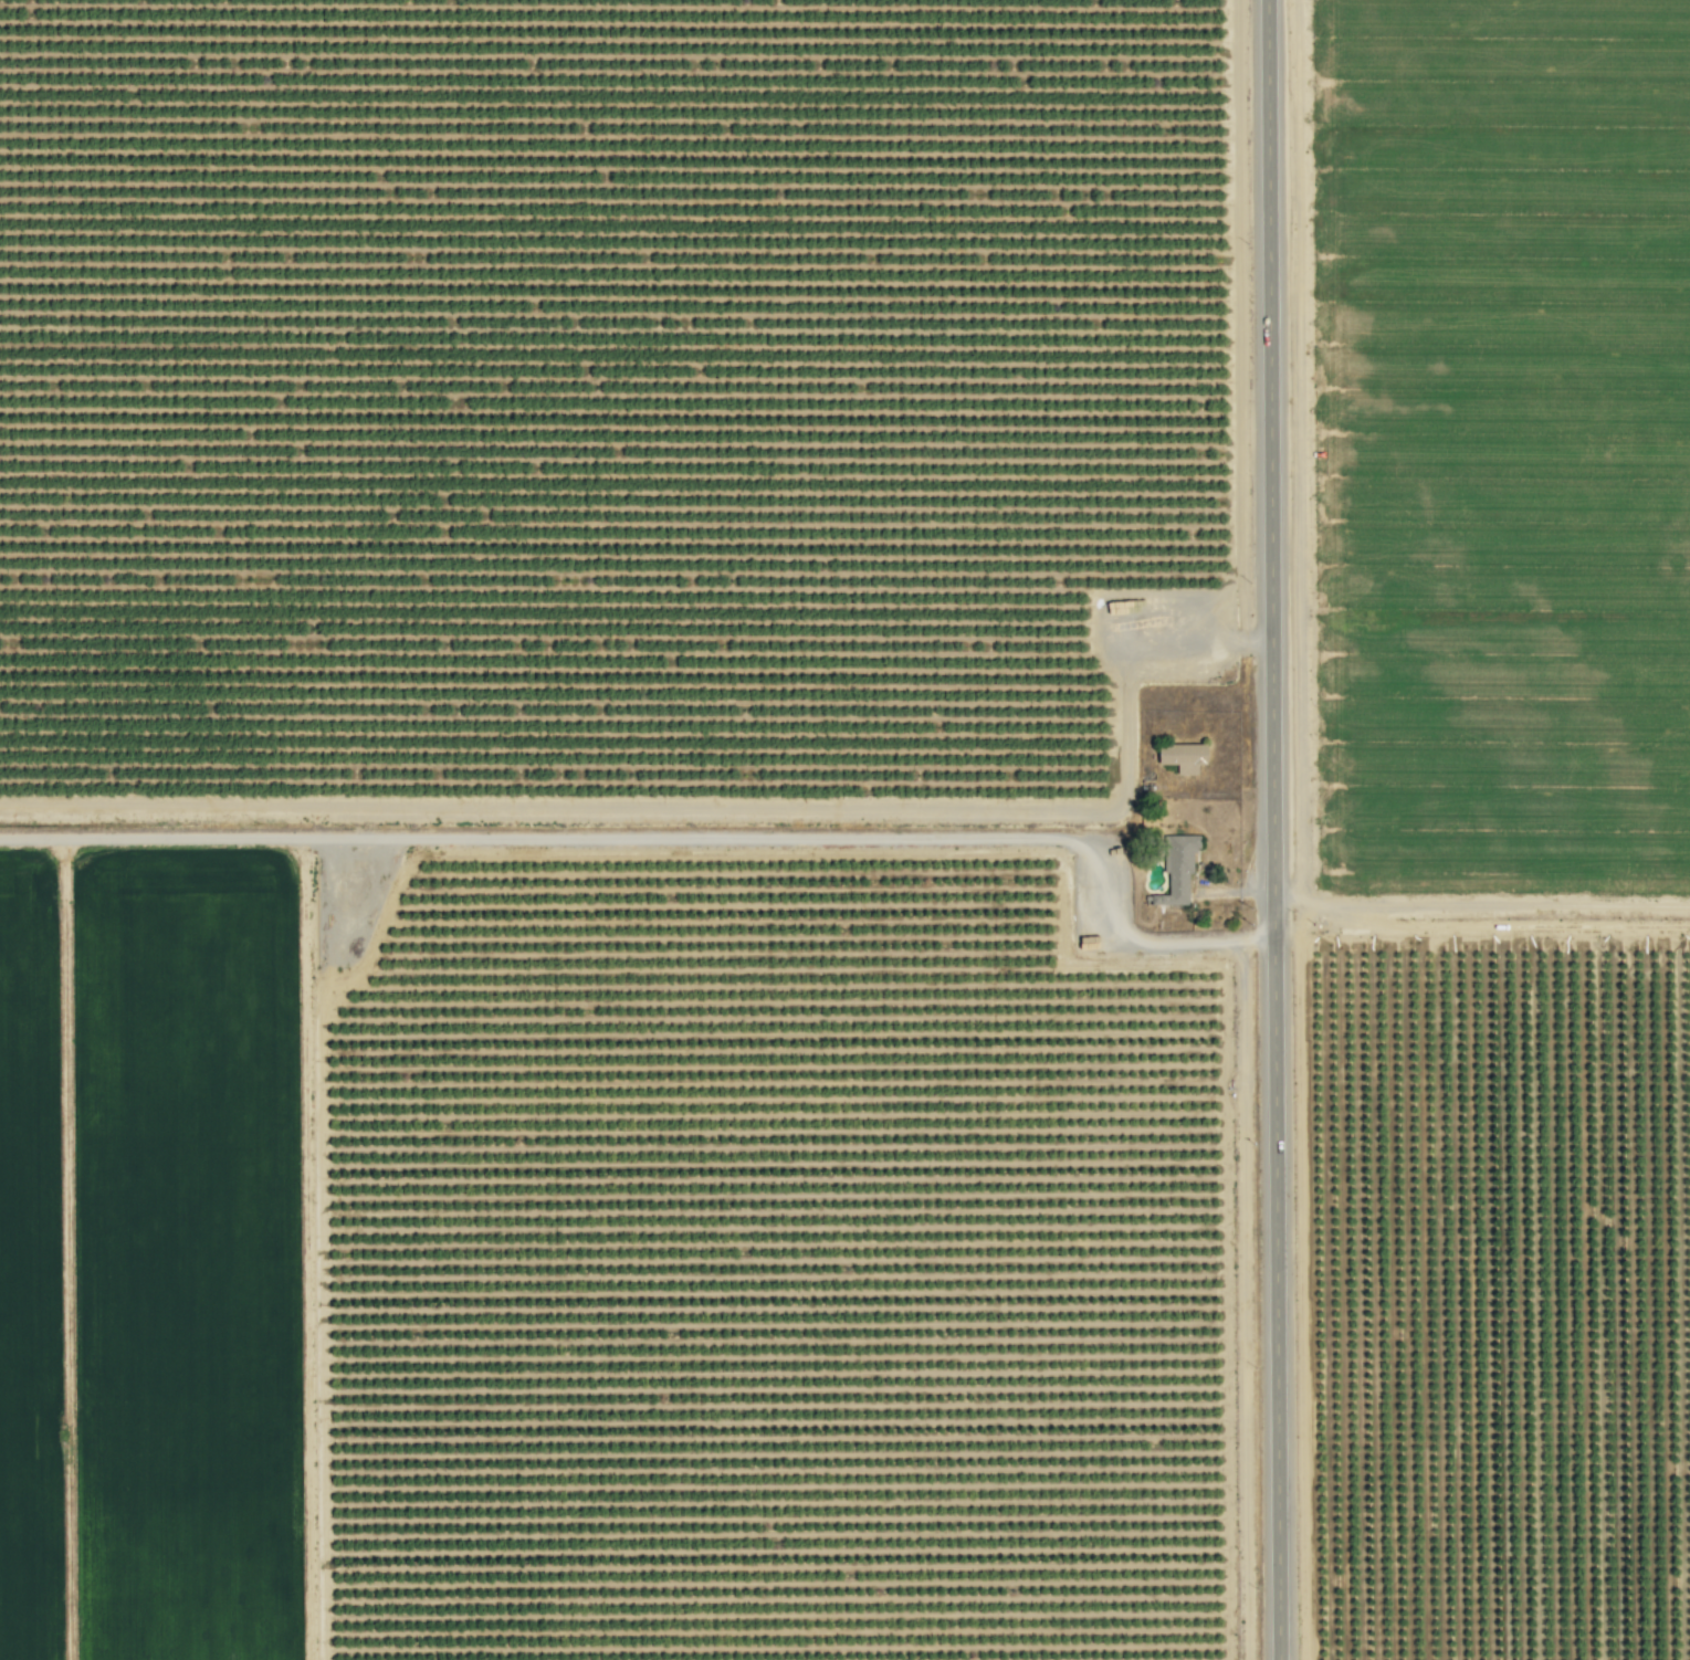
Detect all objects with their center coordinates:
building: (1180, 758)
road: (1281, 830)
building: (1176, 871)

